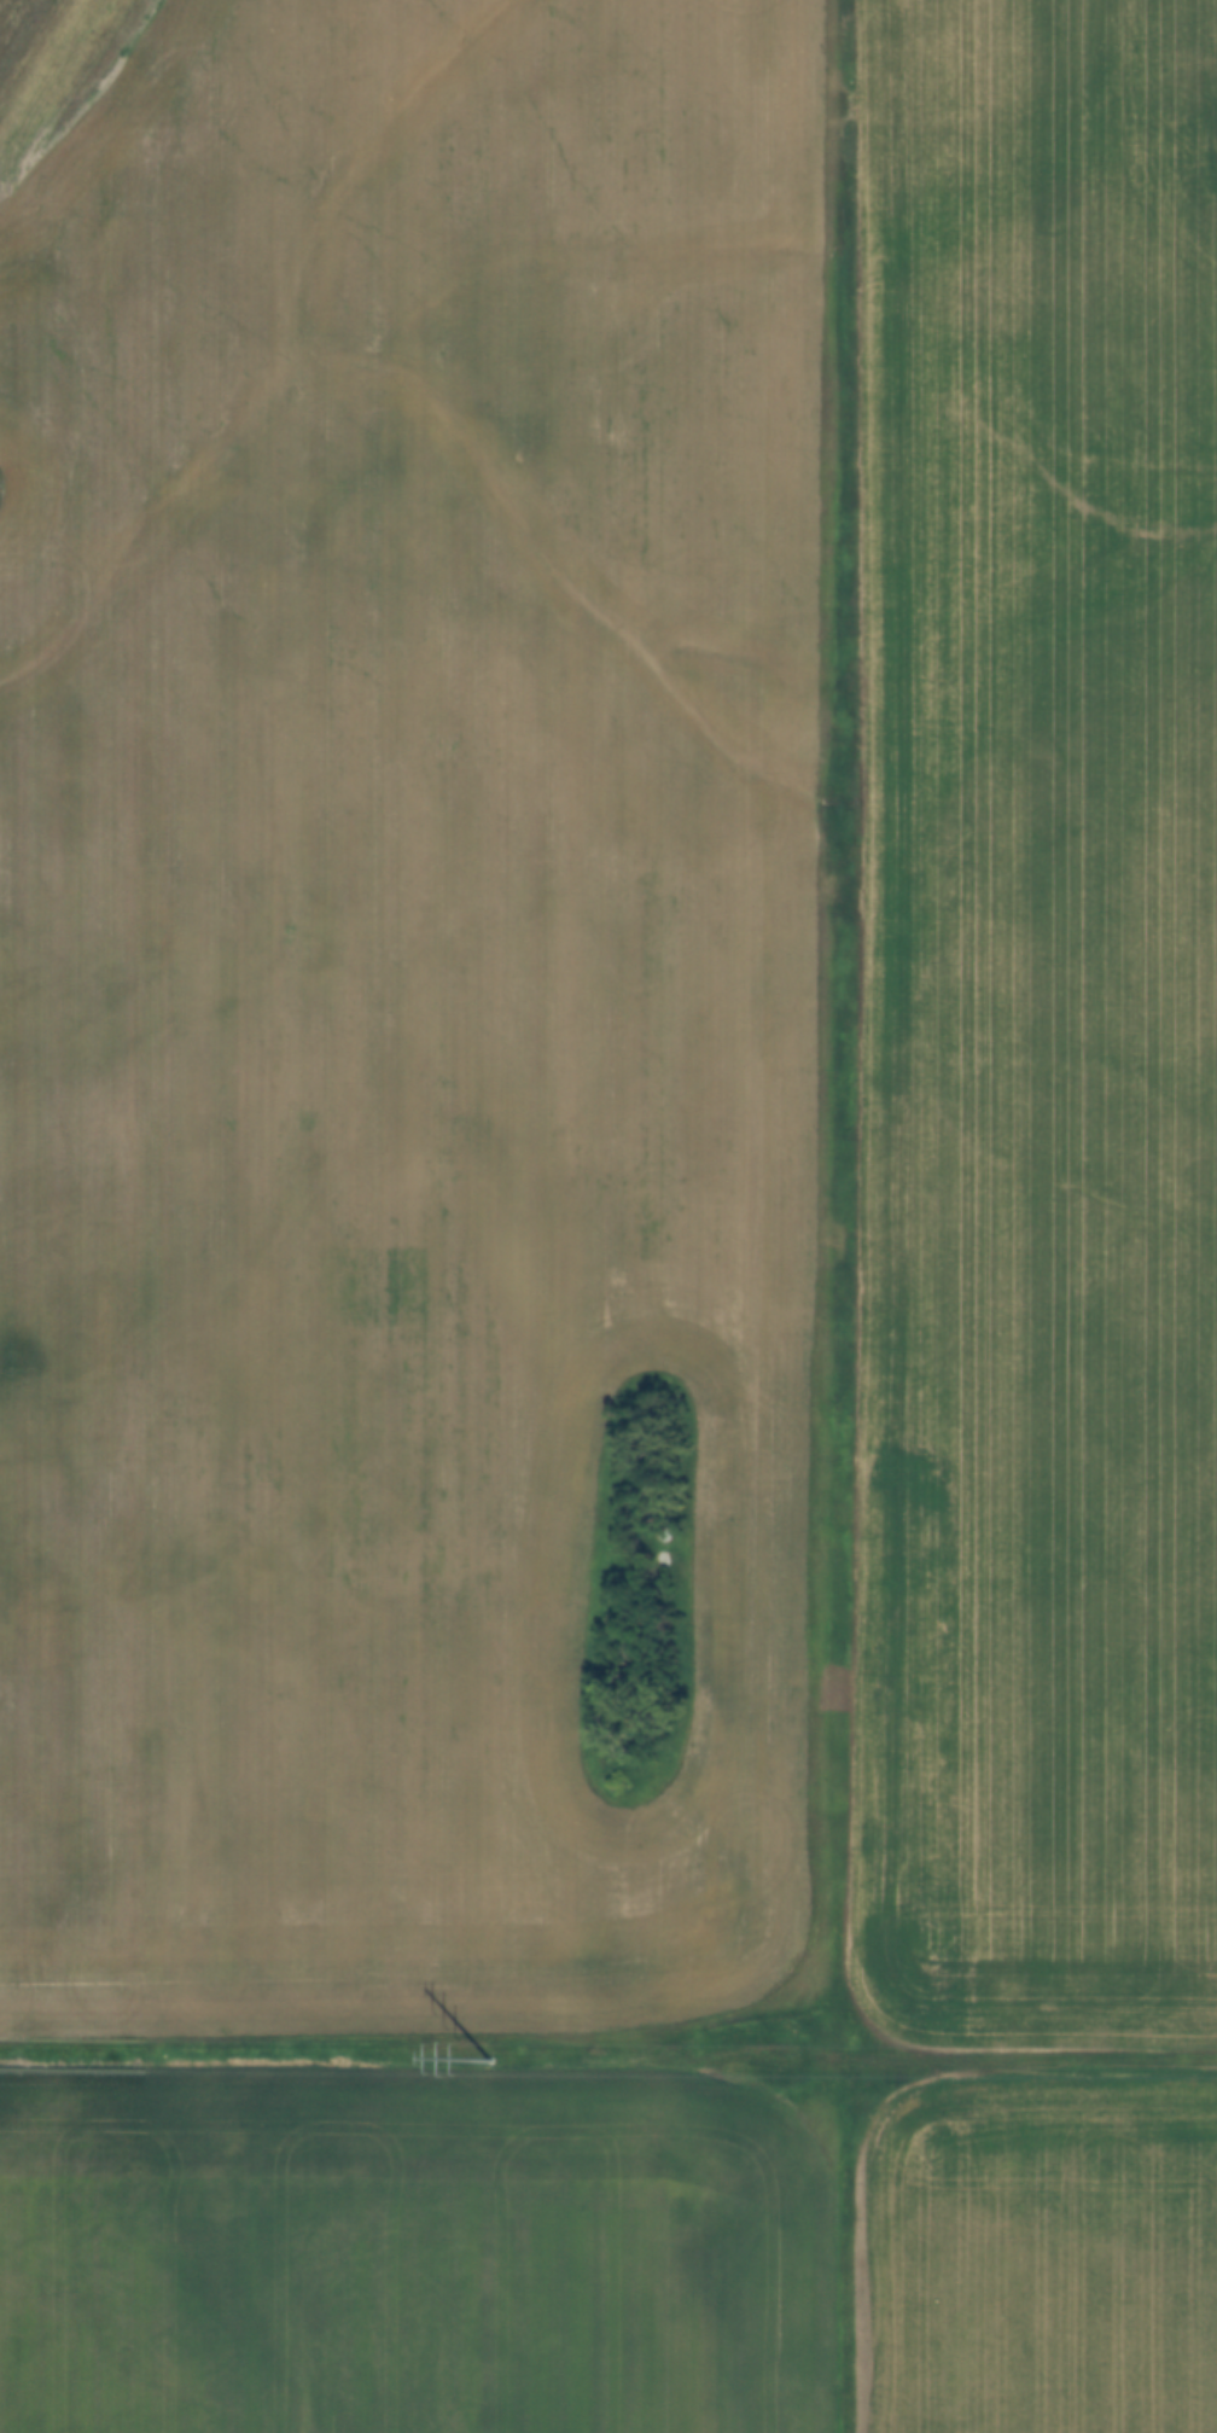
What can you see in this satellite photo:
power tower: (488, 2059)

